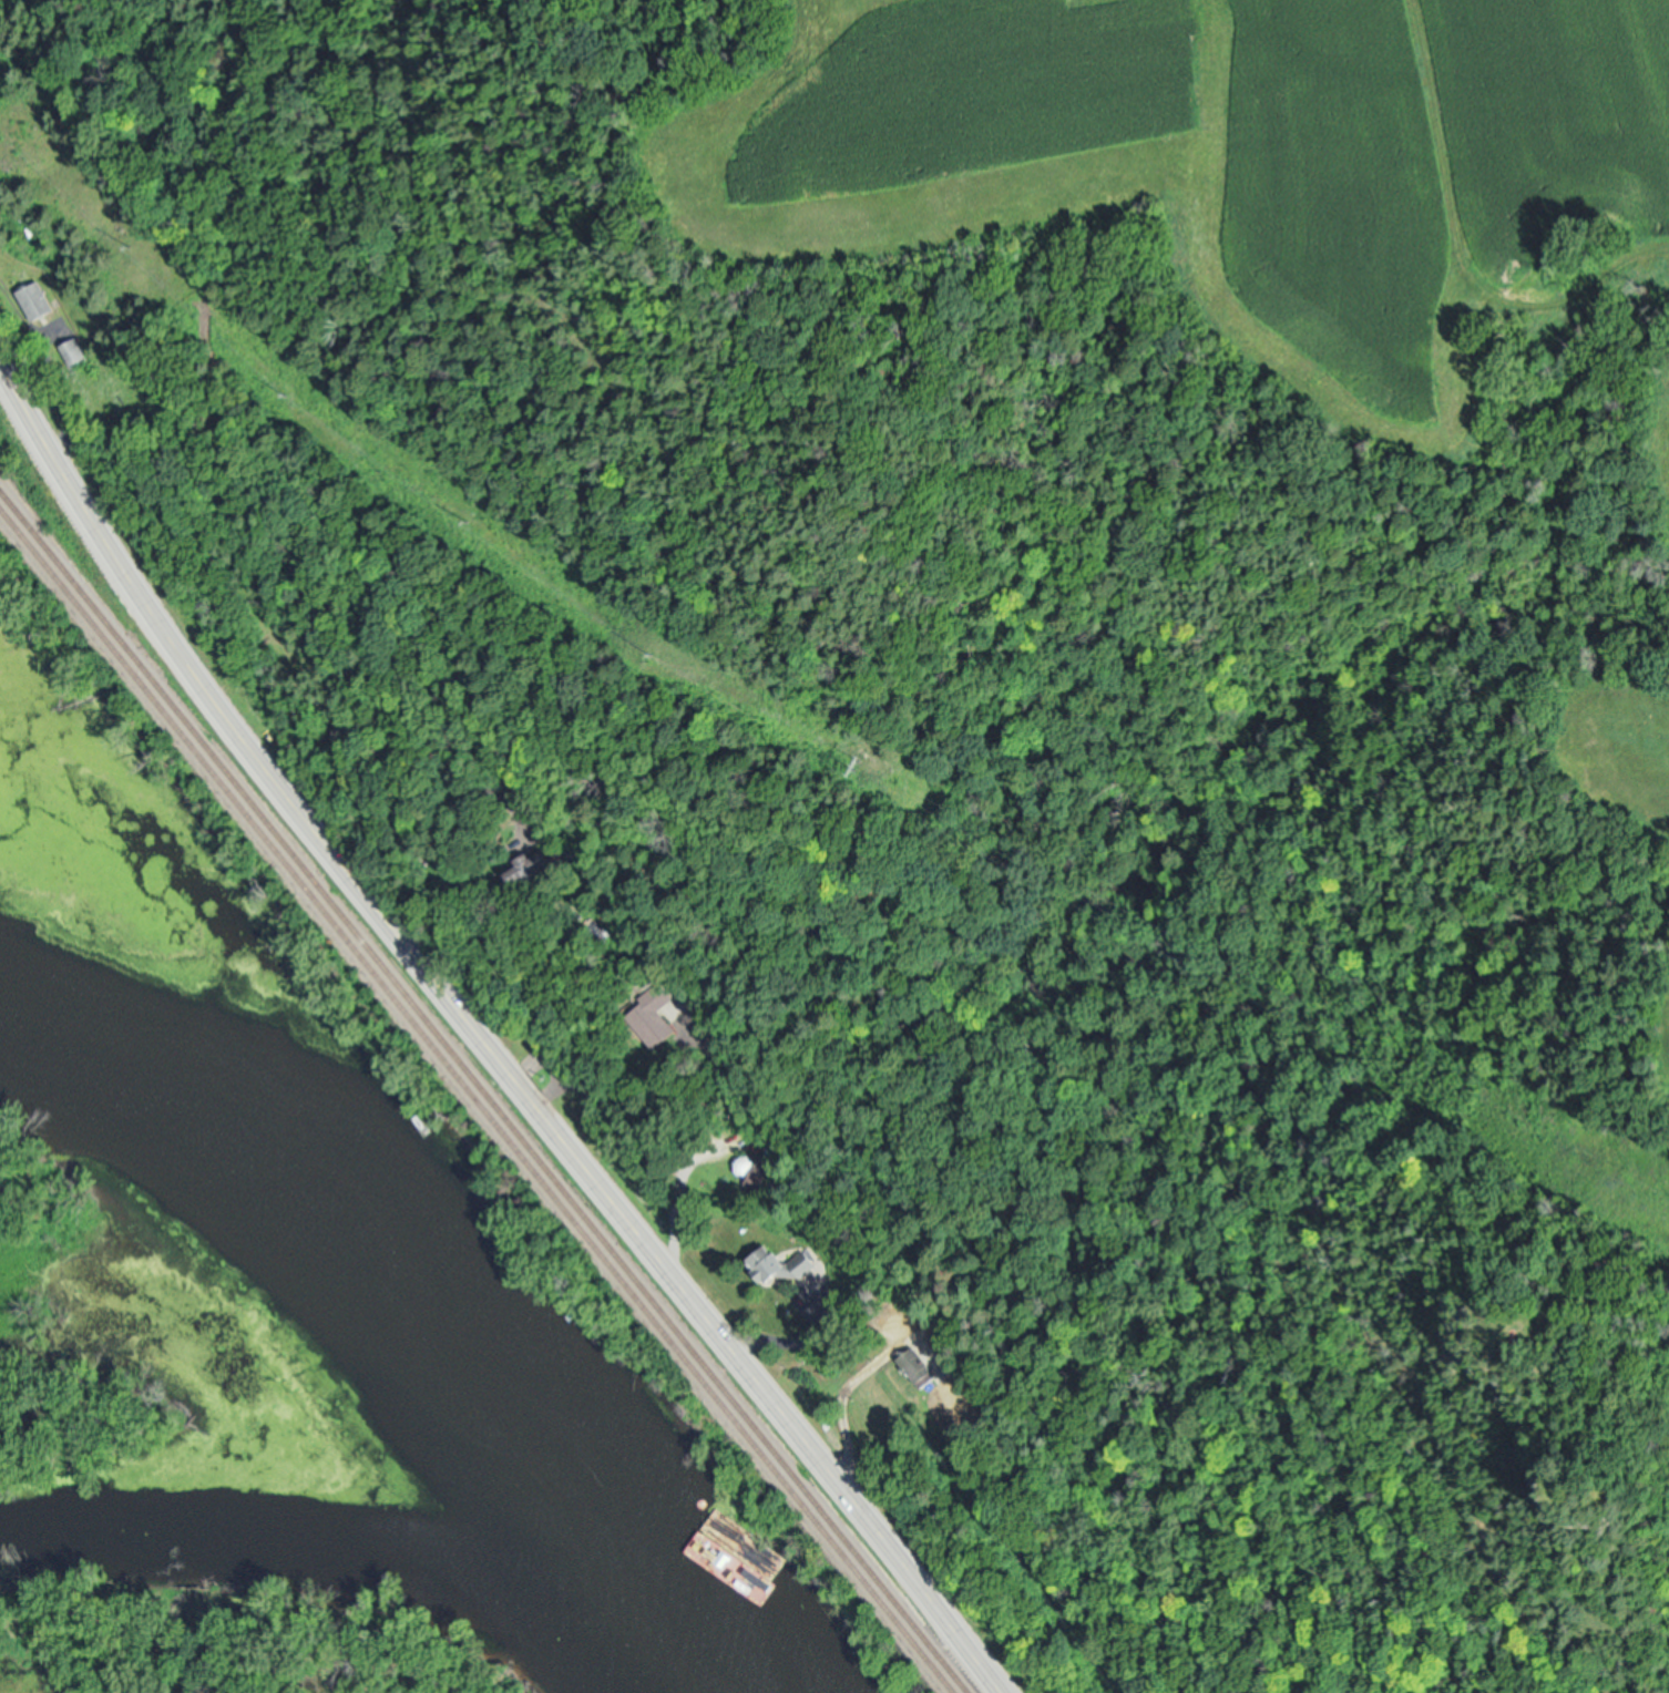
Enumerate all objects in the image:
road: (151, 620)
power tower: (866, 762)
road: (468, 905)
road: (560, 1076)
railway: (484, 1090)
railway: (478, 1099)
road: (677, 1107)
road: (677, 1271)

